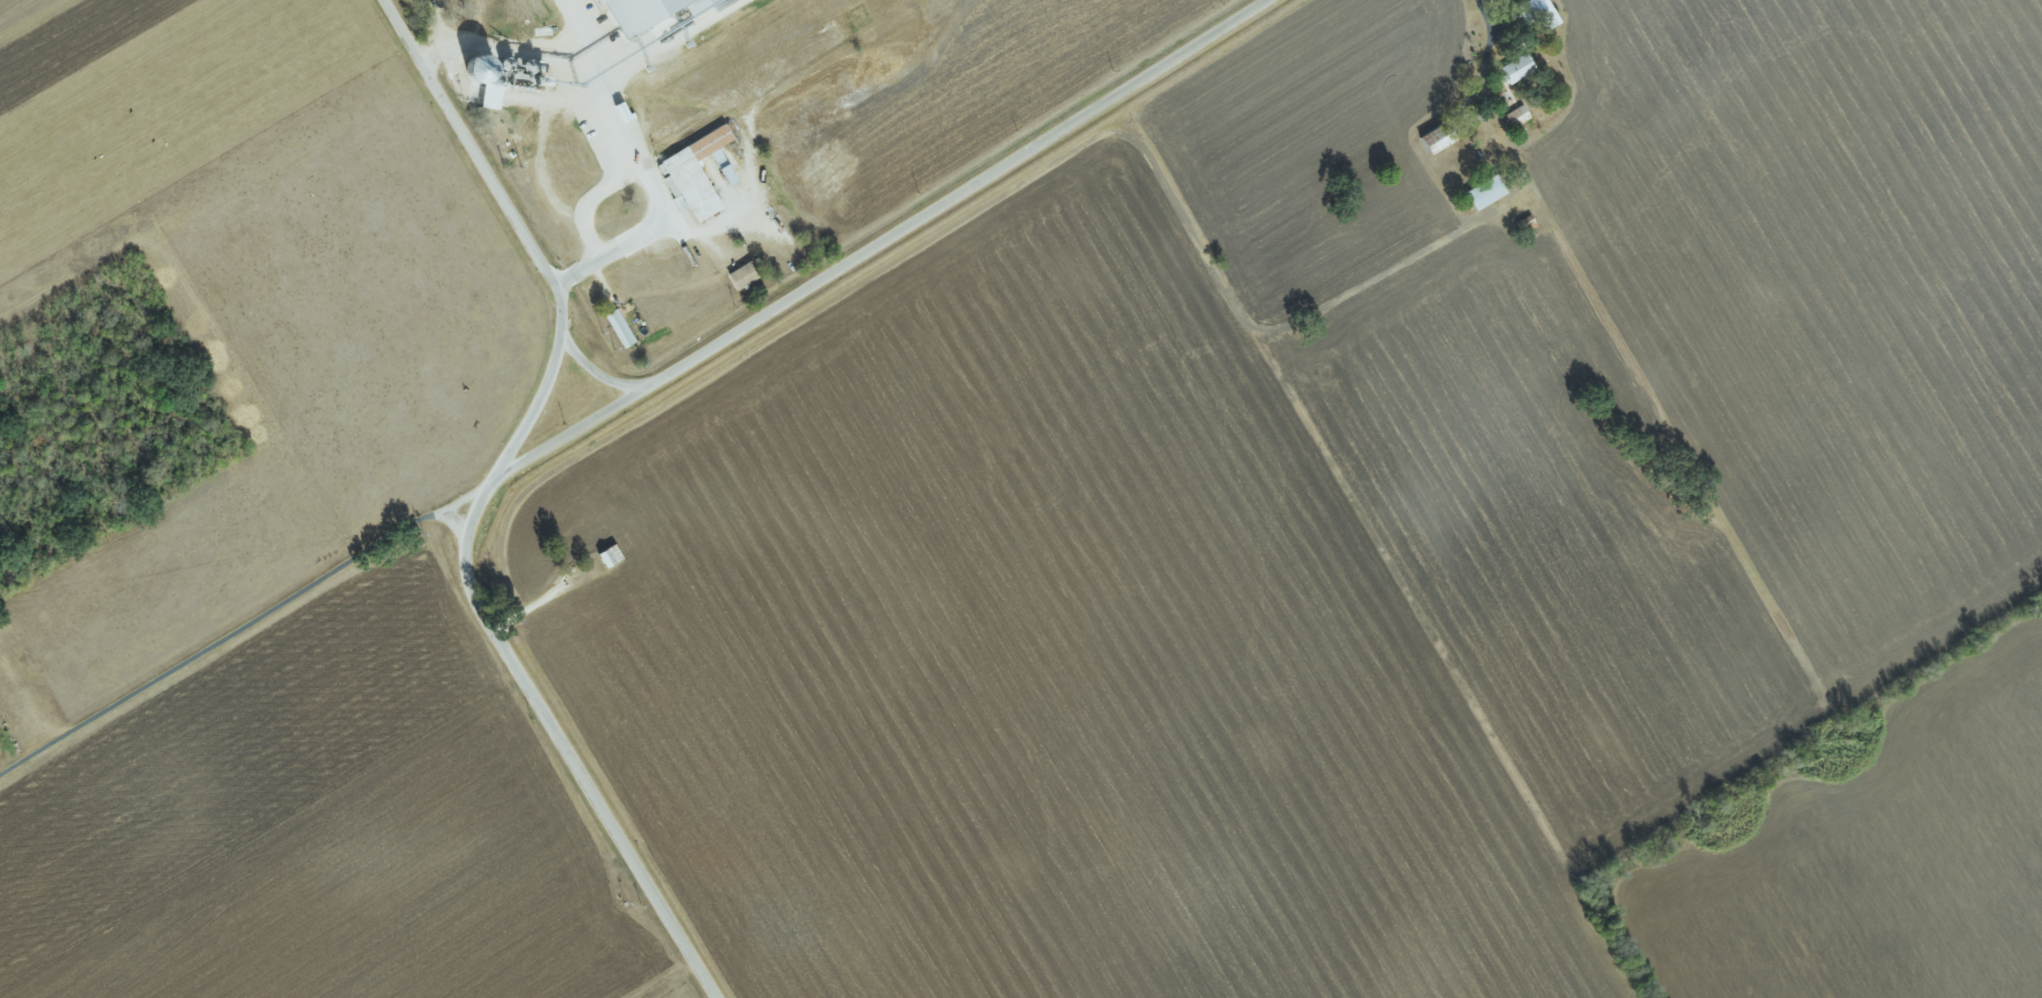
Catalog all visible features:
building: (635, 10)
road: (1487, 40)
road: (661, 44)
road: (525, 49)
road: (597, 63)
building: (1518, 67)
building: (696, 172)
building: (1486, 192)
road: (591, 203)
road: (664, 220)
road: (874, 248)
building: (744, 275)
building: (620, 328)
road: (594, 372)
road: (477, 501)
road: (232, 631)

